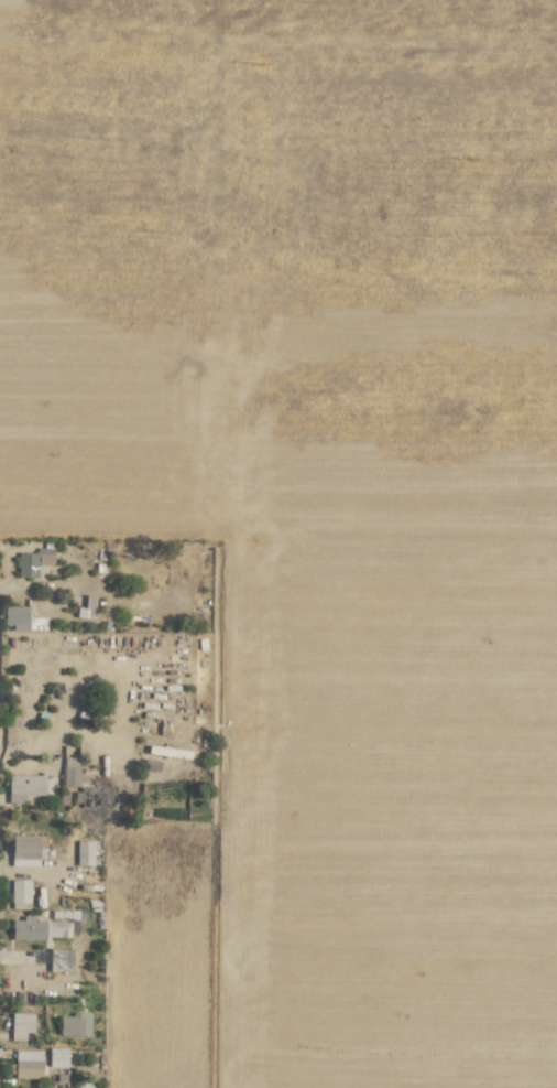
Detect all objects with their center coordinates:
building: (33, 561)
building: (87, 607)
building: (15, 617)
building: (70, 772)
building: (23, 787)
building: (91, 797)
building: (24, 850)
building: (84, 853)
building: (20, 894)
building: (40, 929)
building: (59, 960)
building: (75, 1024)
building: (21, 1025)
building: (57, 1057)
building: (28, 1064)

